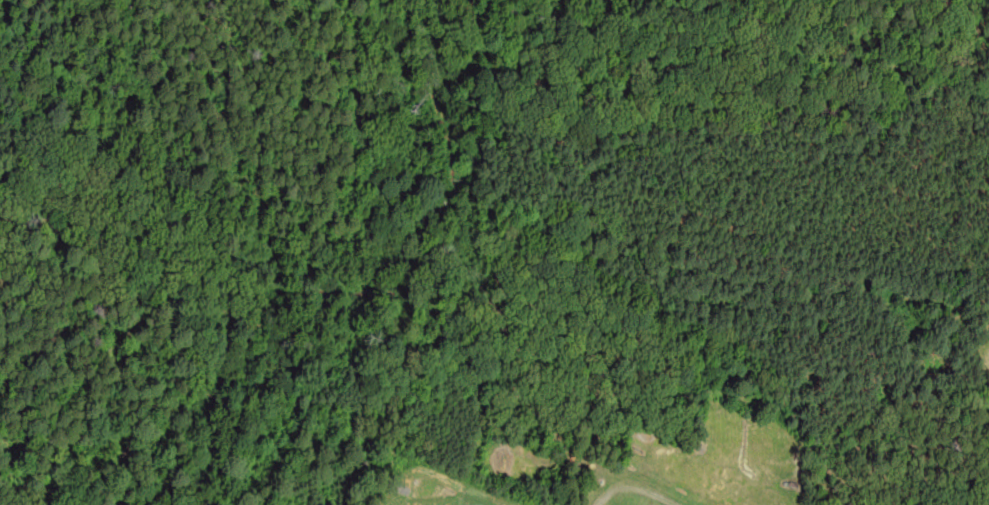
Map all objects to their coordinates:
parking lot: (479, 504)

